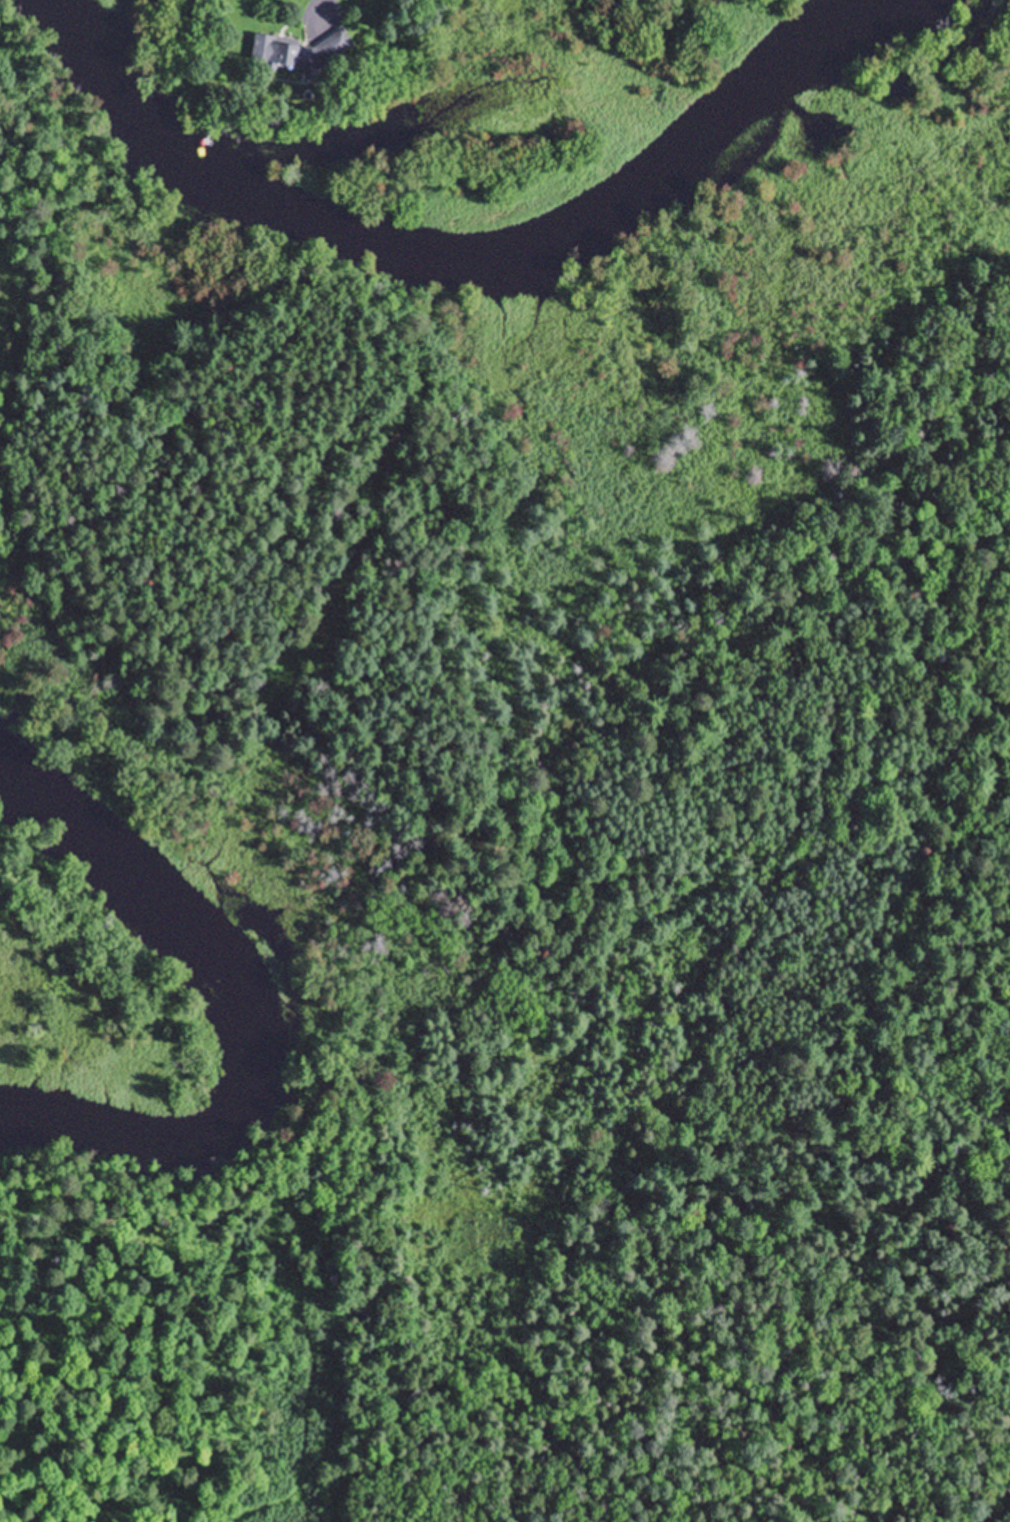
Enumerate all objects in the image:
building: (295, 53)
river: (441, 227)
river: (225, 1003)

